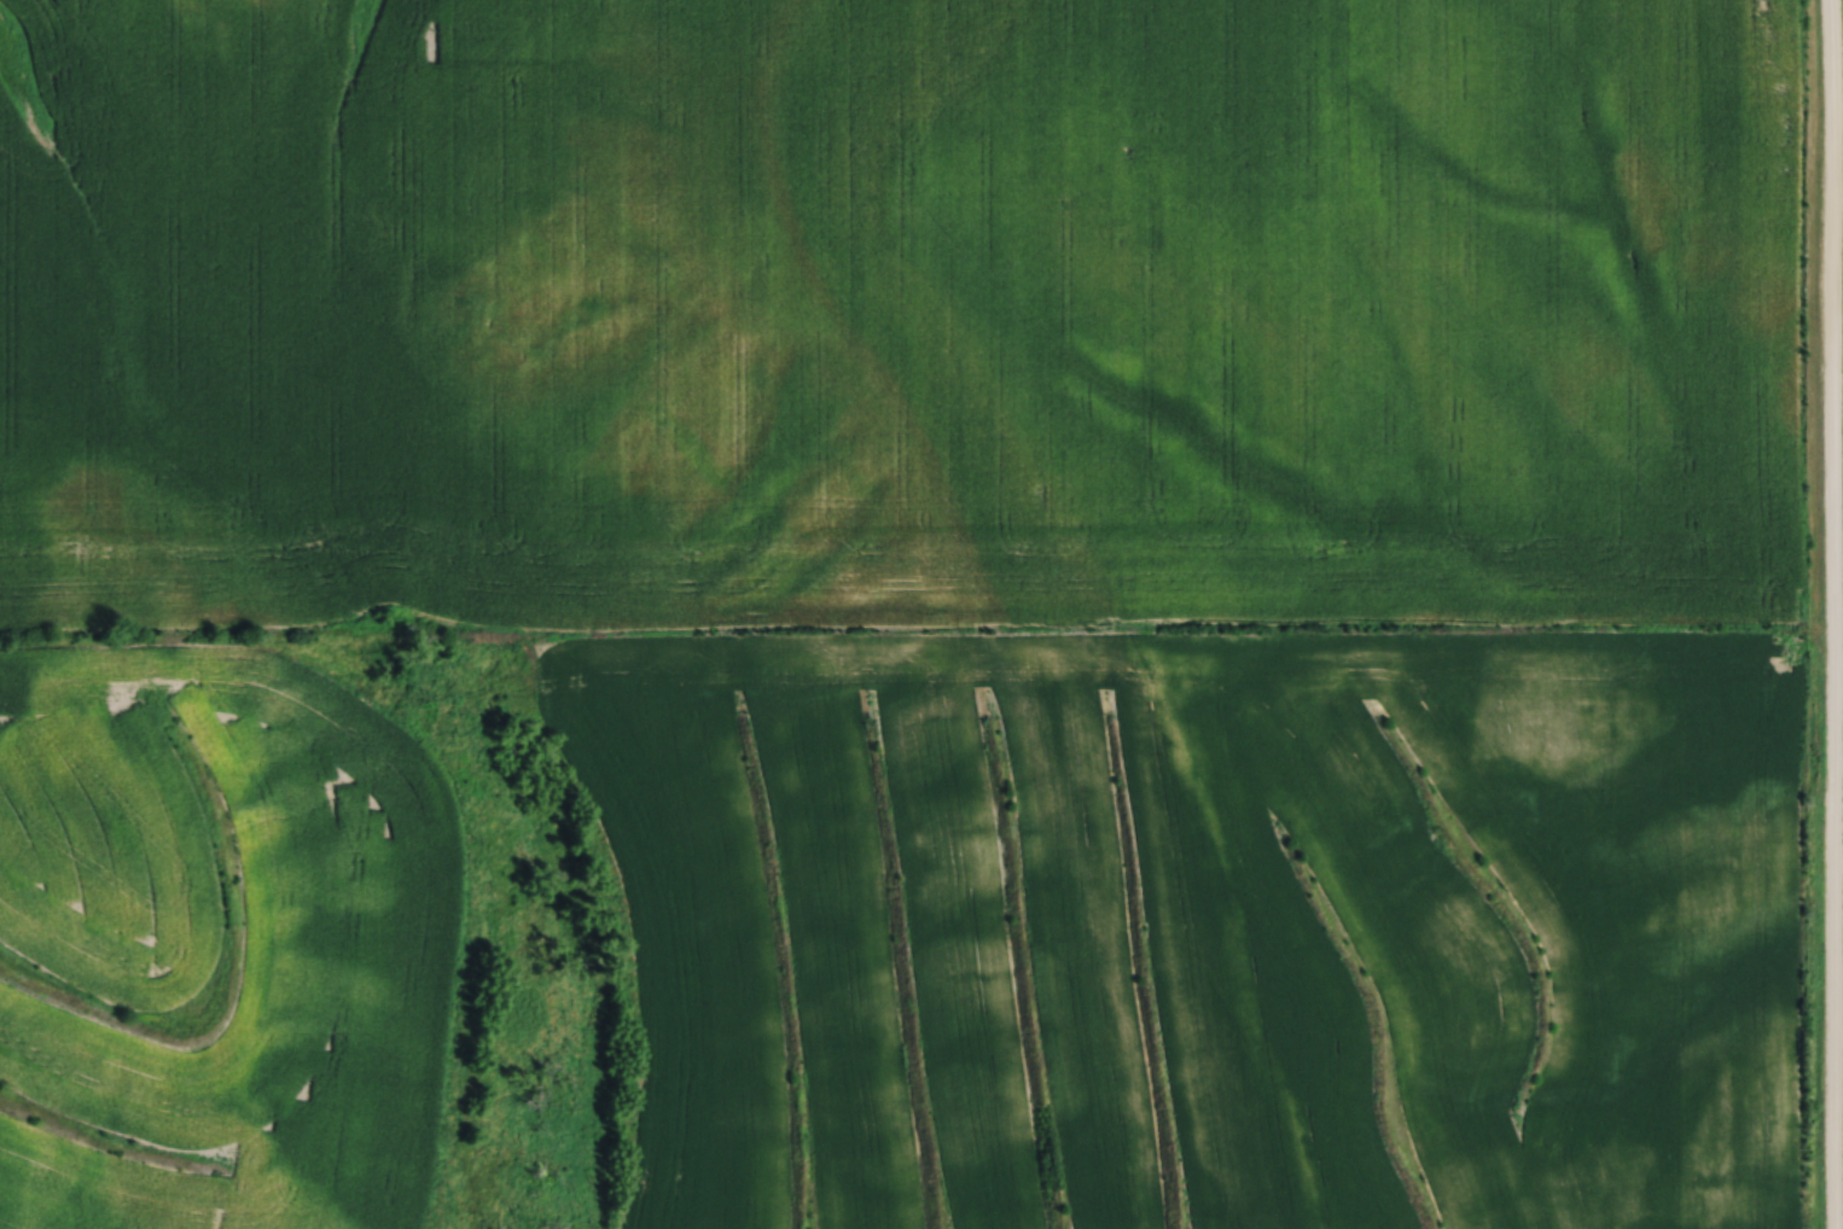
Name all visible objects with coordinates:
road: (1830, 614)

